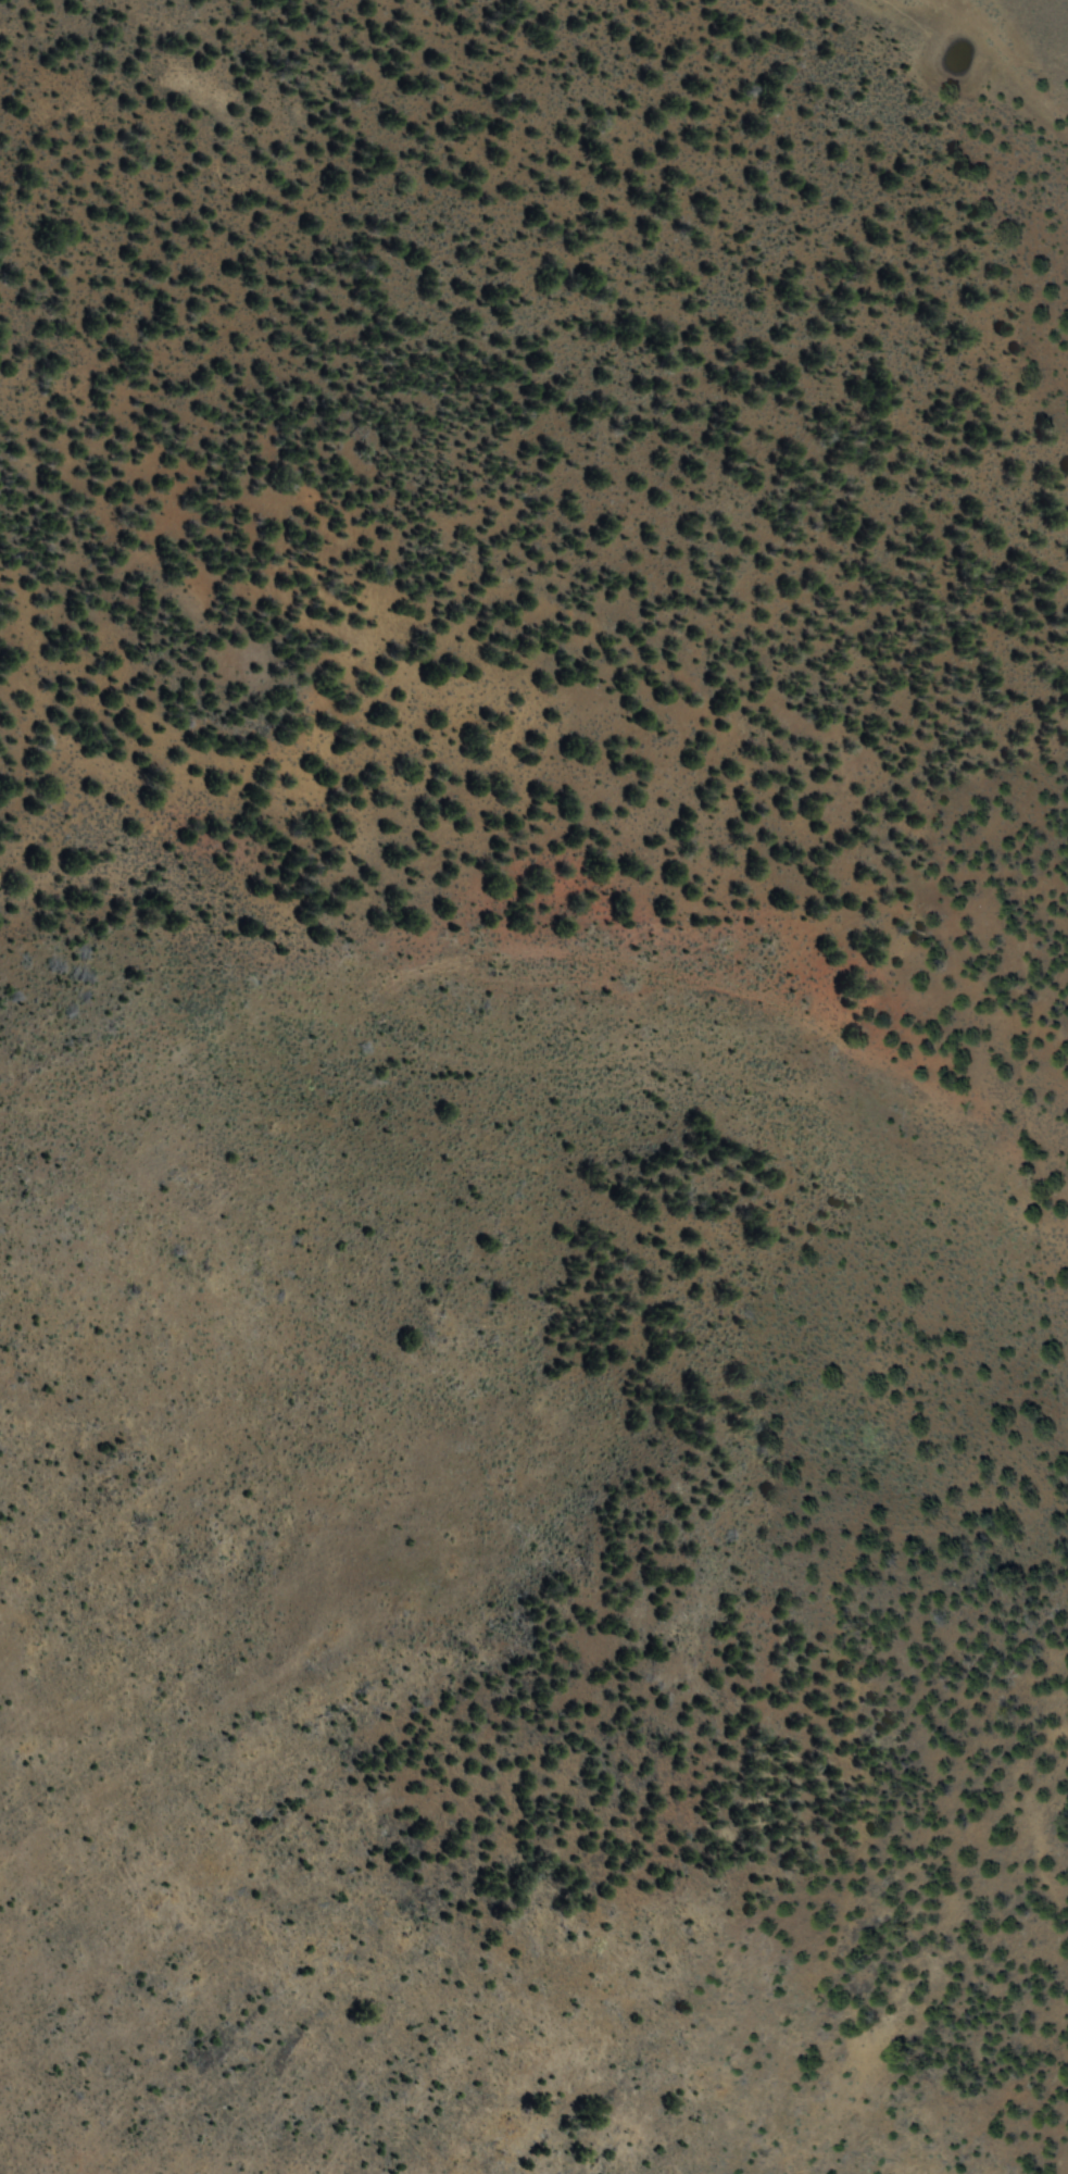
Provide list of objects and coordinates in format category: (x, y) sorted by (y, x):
road: (1039, 33)

